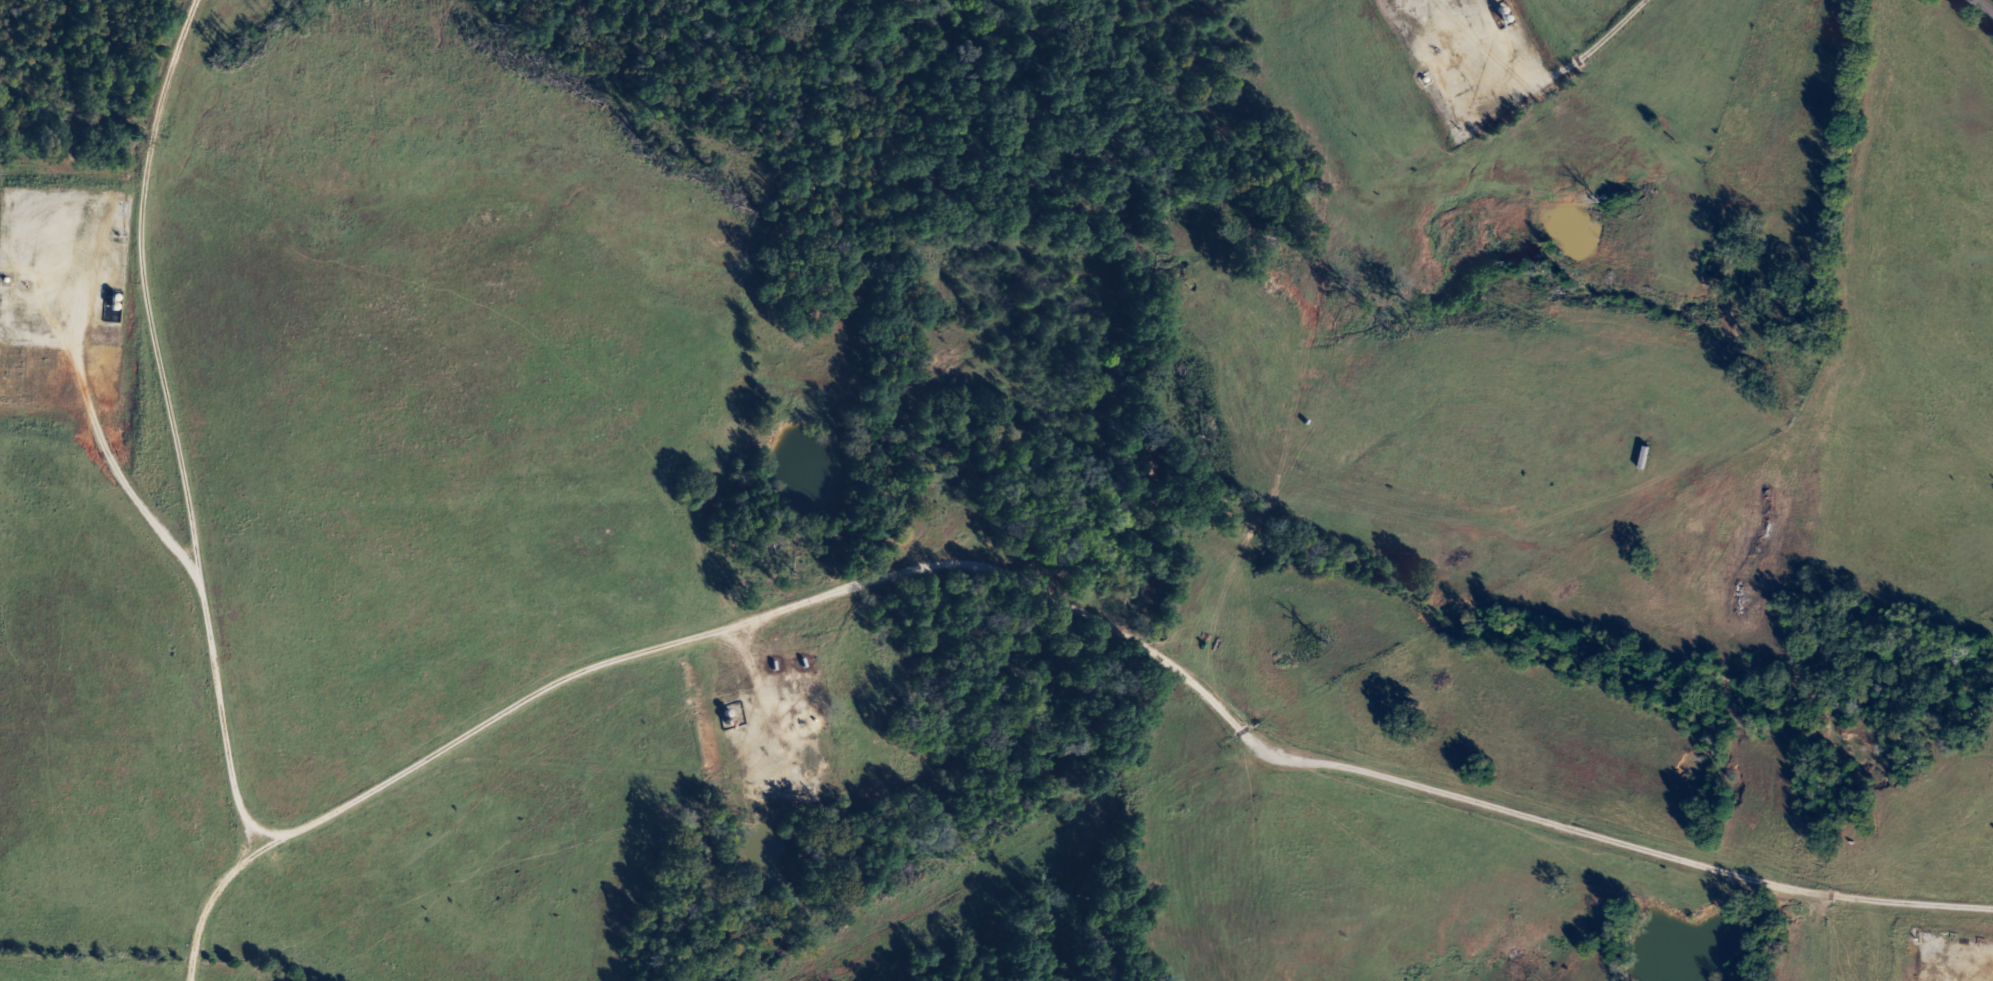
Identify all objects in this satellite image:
road: (1982, 7)

